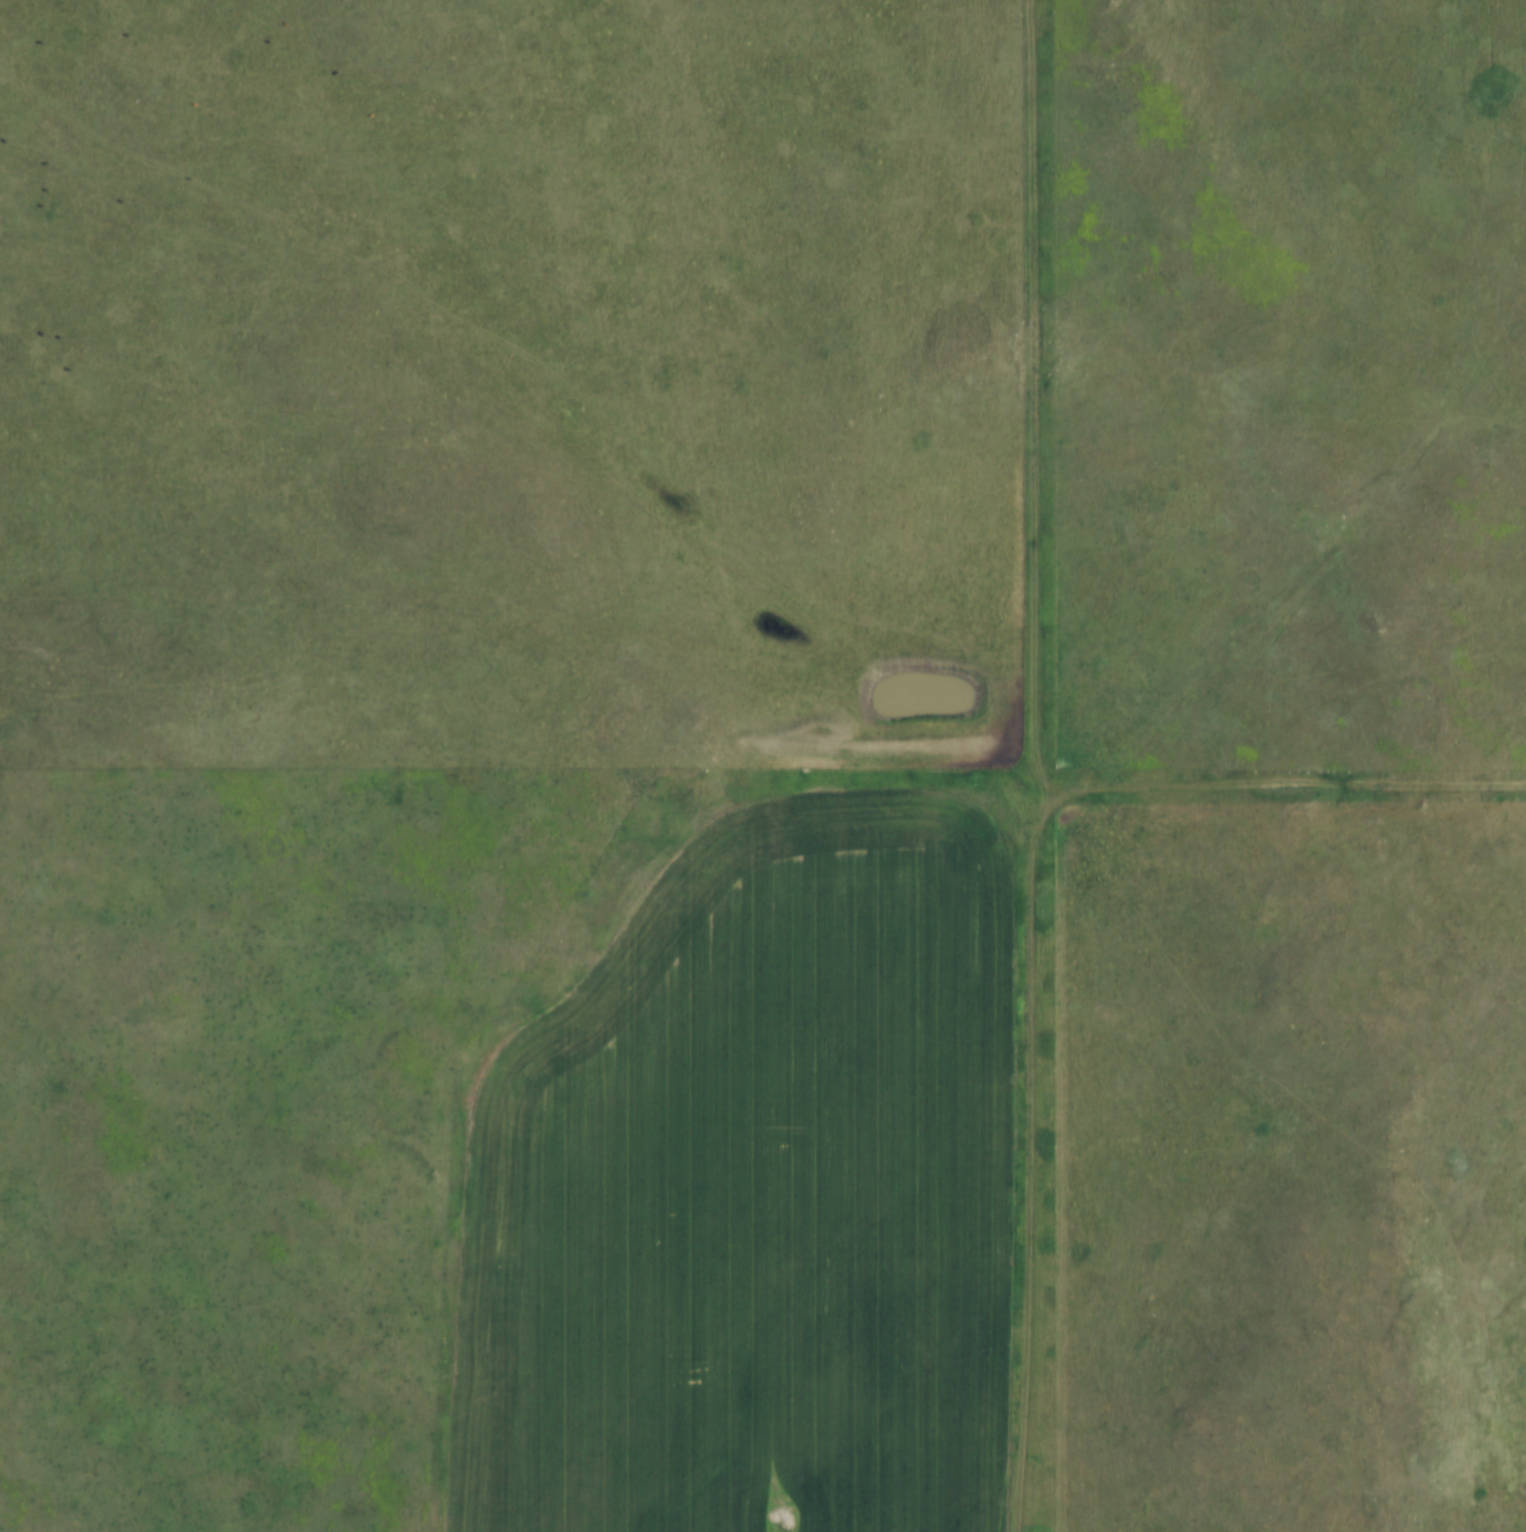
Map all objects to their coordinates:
road: (1042, 641)

